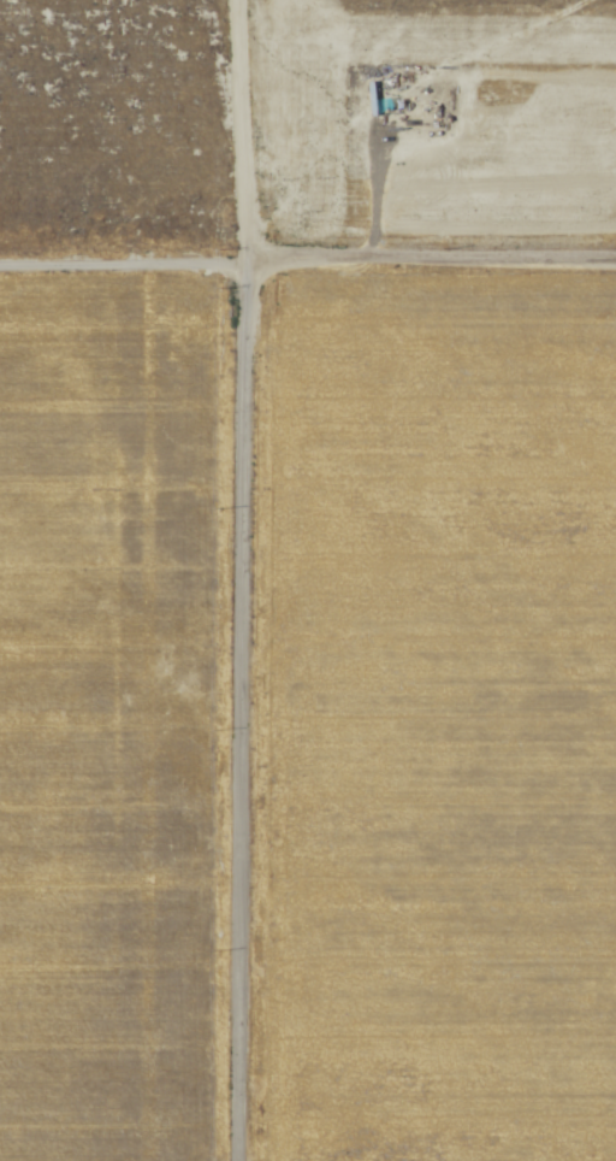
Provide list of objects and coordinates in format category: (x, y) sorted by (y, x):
road: (428, 269)
road: (120, 271)
road: (238, 715)
crop: (430, 720)
crop: (111, 723)

